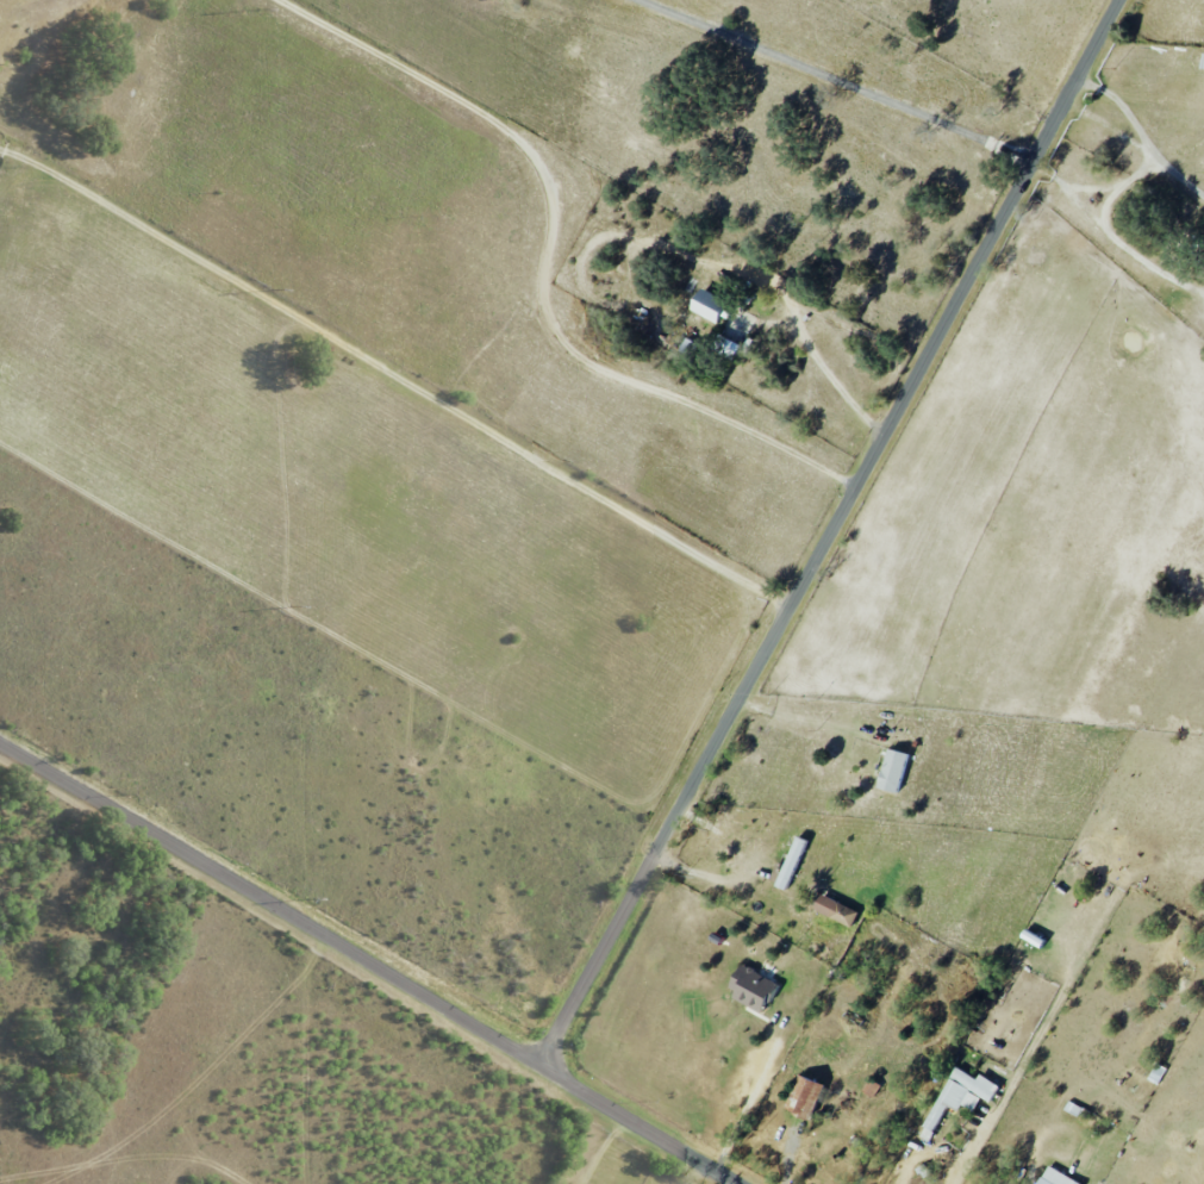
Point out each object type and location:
power tower: (264, 6)
building: (1203, 62)
road: (837, 79)
road: (1137, 143)
road: (1142, 166)
road: (1127, 248)
road: (545, 258)
power tower: (279, 287)
building: (707, 305)
road: (806, 336)
building: (725, 347)
road: (395, 374)
road: (830, 530)
power tower: (297, 606)
road: (812, 722)
building: (893, 771)
building: (792, 862)
power tower: (316, 895)
building: (836, 910)
road: (374, 959)
building: (751, 987)
road: (1018, 1072)
building: (960, 1092)
building: (805, 1096)
road: (743, 1103)
road: (931, 1146)
building: (1055, 1177)

